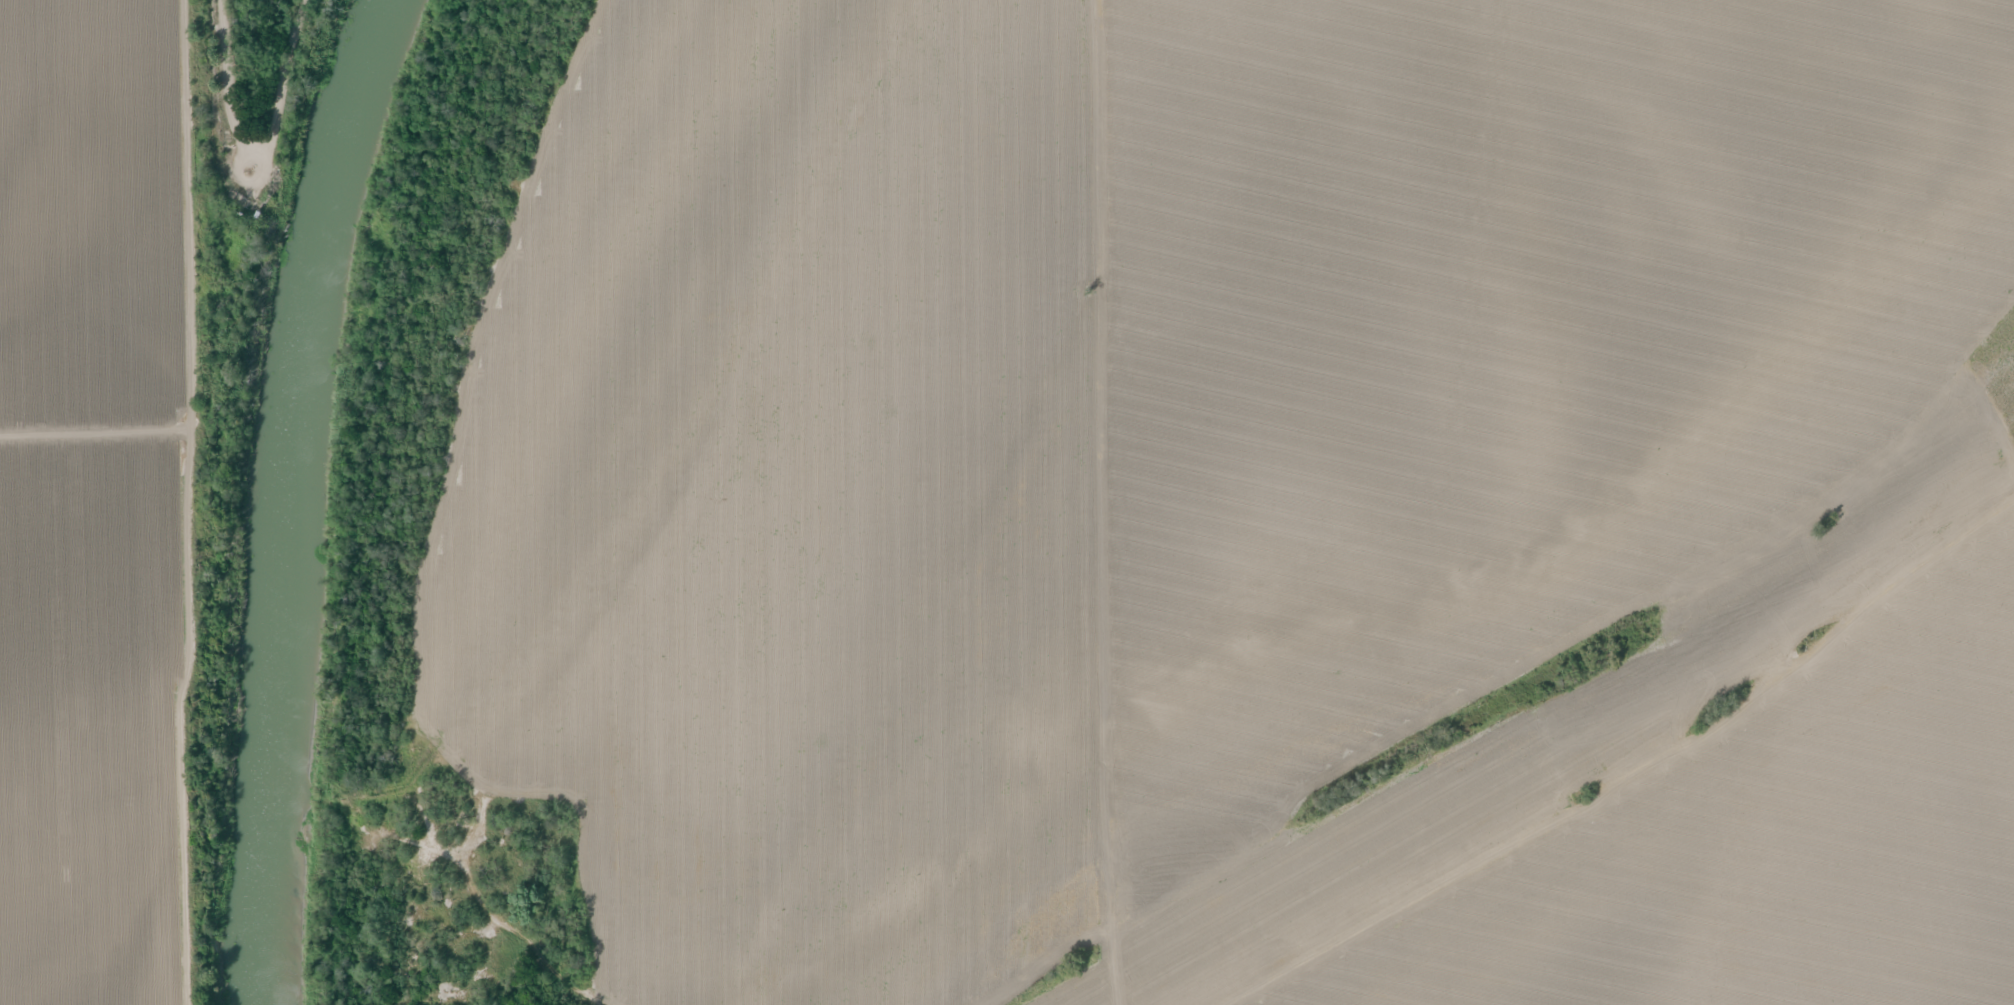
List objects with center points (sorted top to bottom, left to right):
river: (287, 497)

